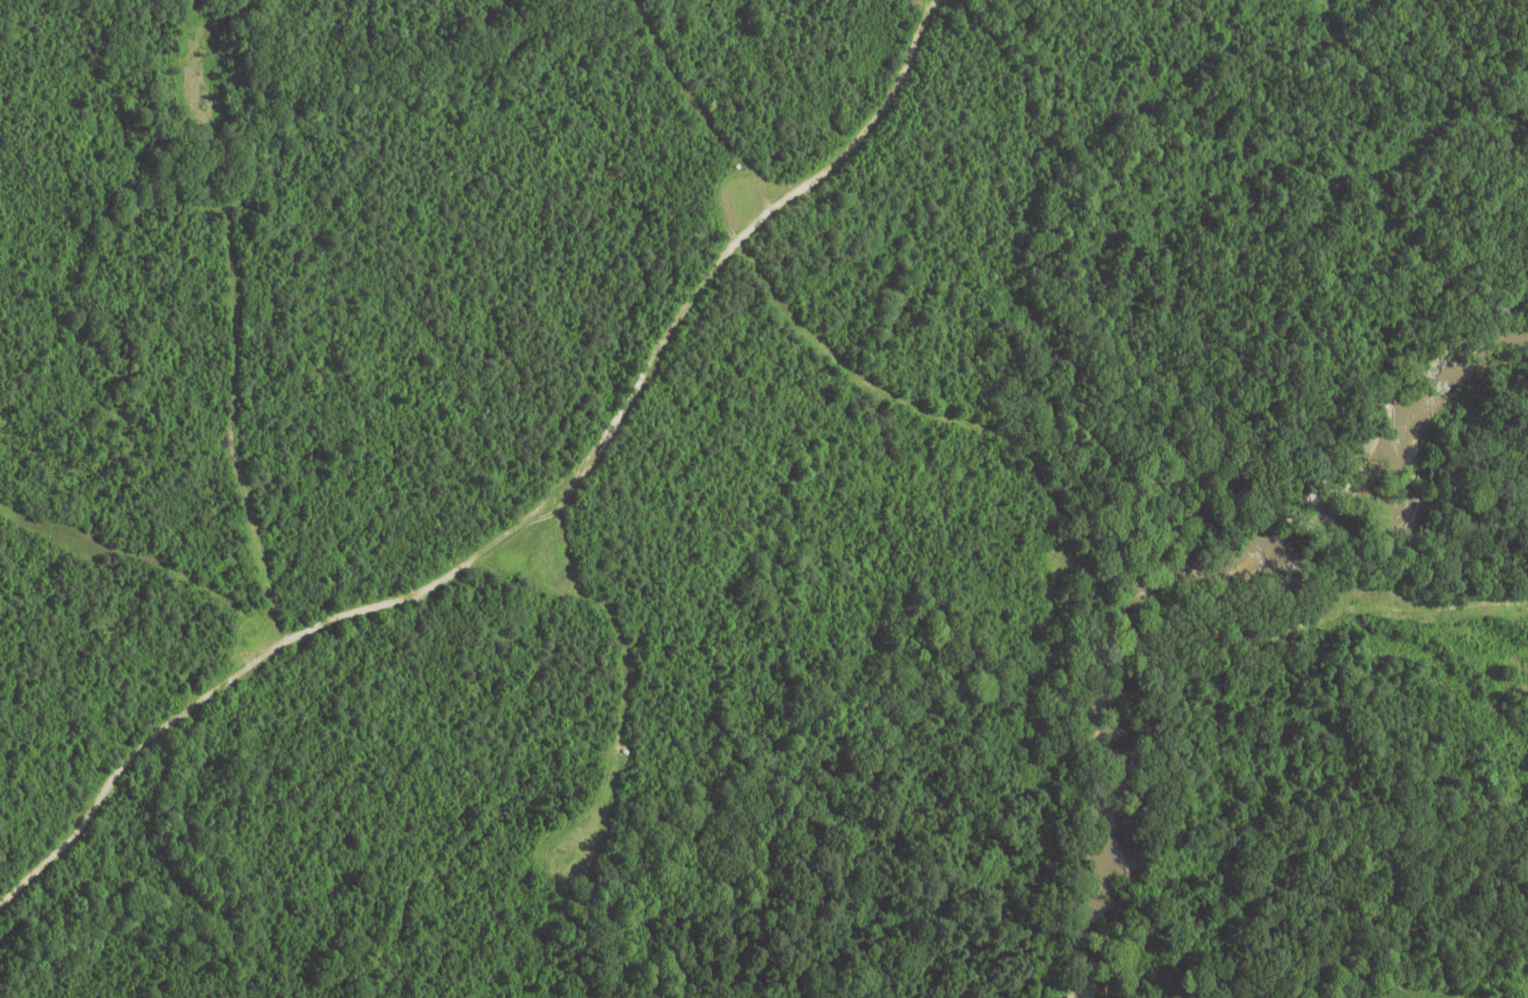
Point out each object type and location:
river: (1193, 593)

